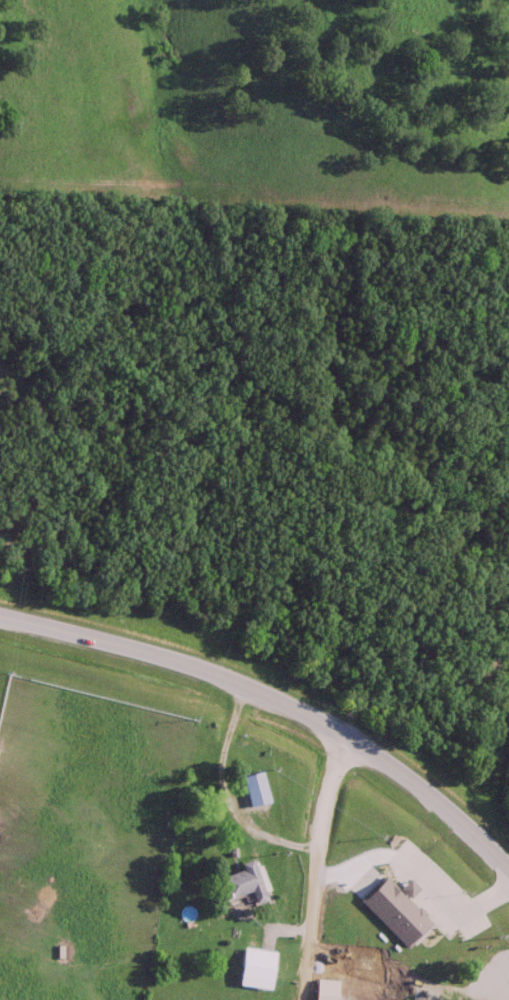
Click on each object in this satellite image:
road: (276, 697)
building: (254, 791)
road: (311, 866)
building: (244, 885)
building: (403, 915)
building: (350, 922)
building: (256, 966)
building: (345, 992)
building: (507, 998)

